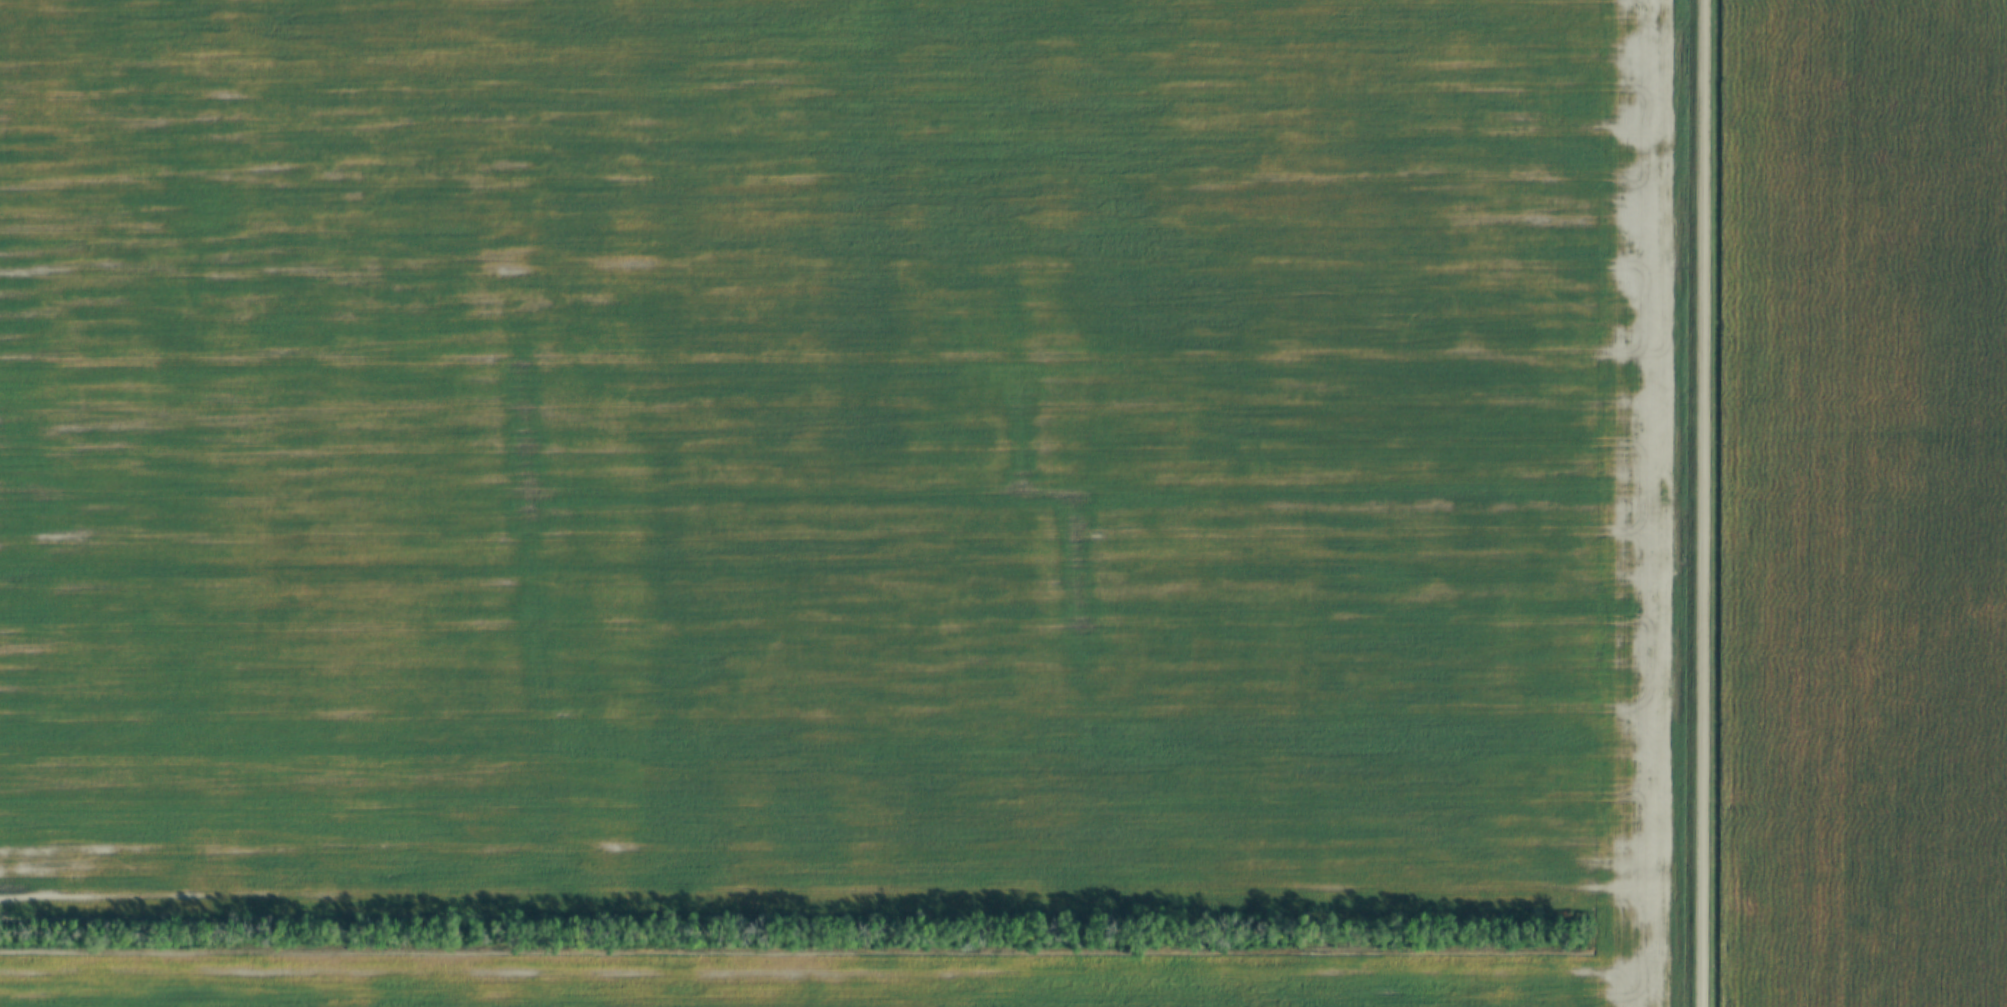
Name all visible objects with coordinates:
road: (1708, 503)

